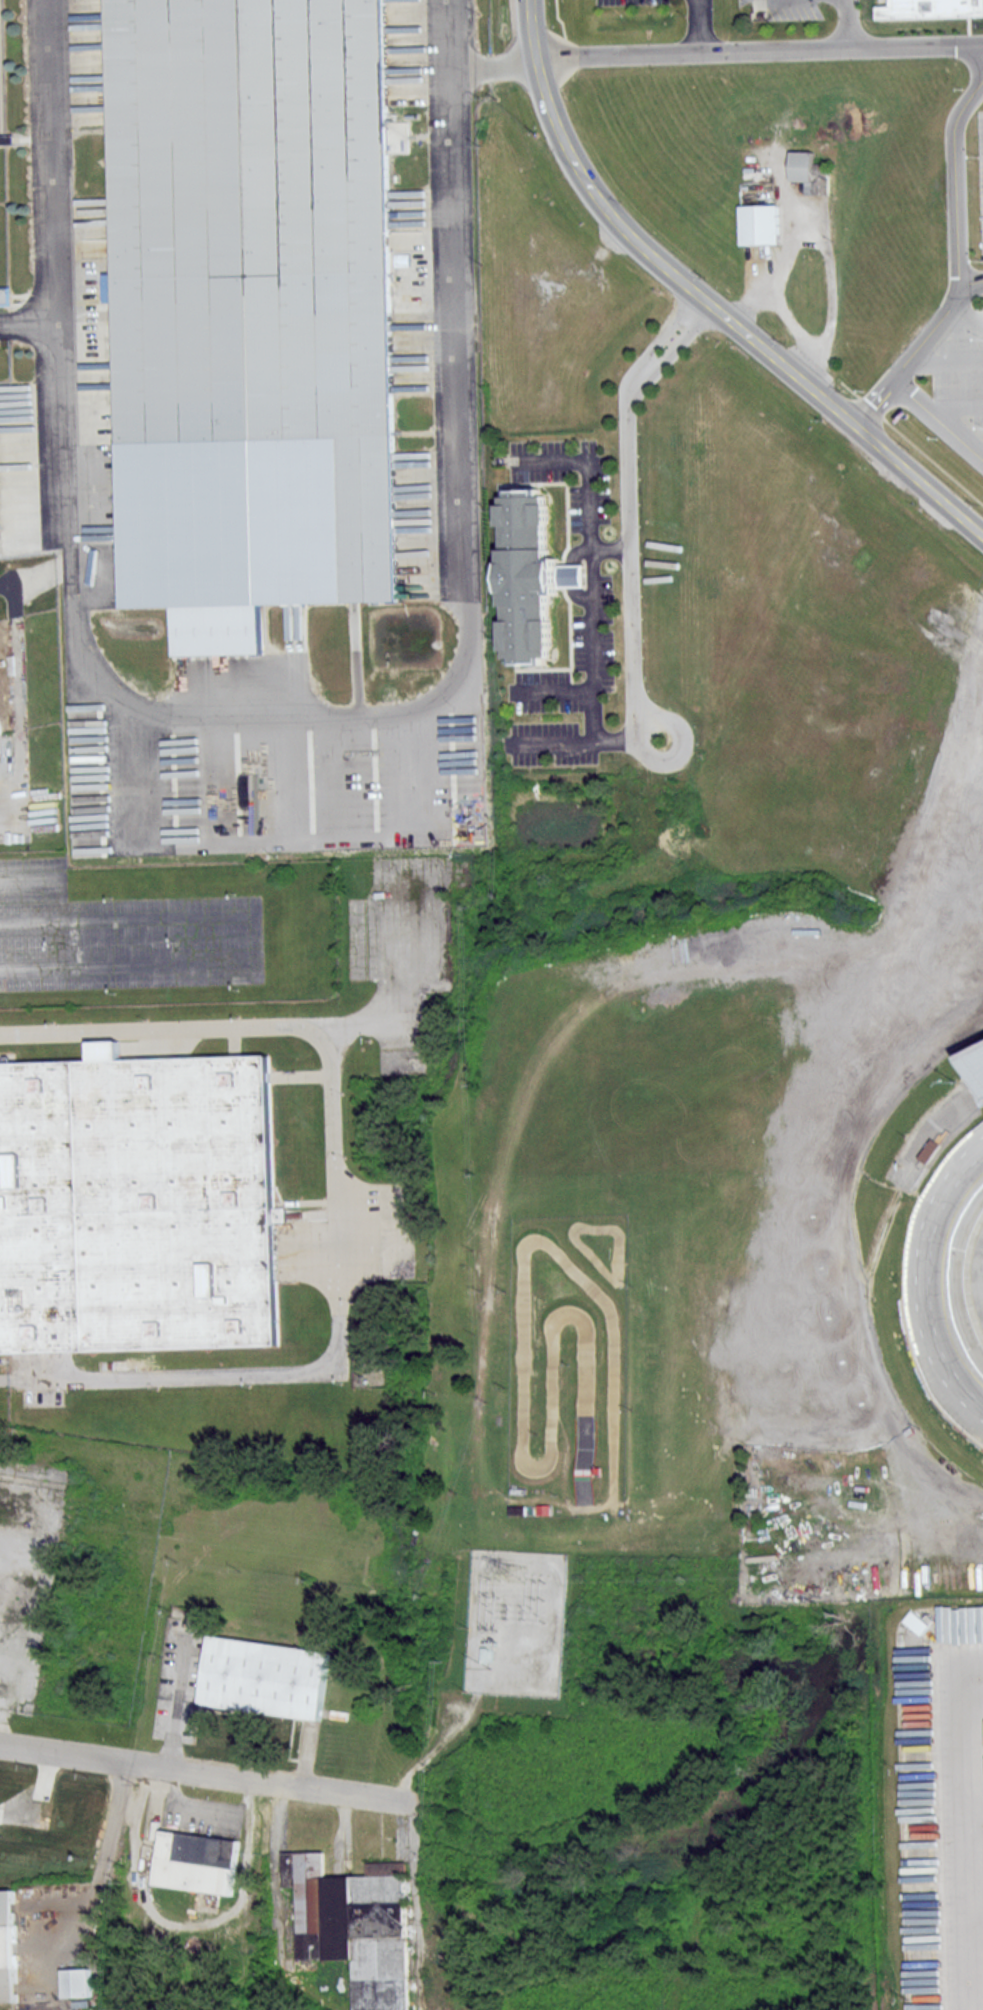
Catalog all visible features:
building: (930, 8)
road: (847, 24)
road: (700, 26)
road: (530, 29)
road: (448, 36)
road: (759, 51)
road: (42, 184)
building: (262, 240)
road: (958, 267)
road: (970, 282)
parking lot: (964, 311)
road: (728, 319)
road: (938, 419)
building: (233, 521)
road: (632, 565)
building: (525, 570)
road: (35, 576)
road: (594, 651)
road: (558, 690)
road: (437, 699)
building: (1, 724)
road: (556, 742)
road: (6, 802)
building: (942, 1134)
stadium: (728, 1153)
road: (332, 1200)
building: (138, 1203)
raceway: (618, 1277)
raceway: (936, 1282)
raceway: (522, 1377)
power tower: (516, 1570)
power substation: (513, 1622)
building: (266, 1676)
road: (202, 1771)
road: (977, 1815)
road: (972, 1826)
building: (198, 1861)
building: (355, 1924)
building: (9, 1946)

